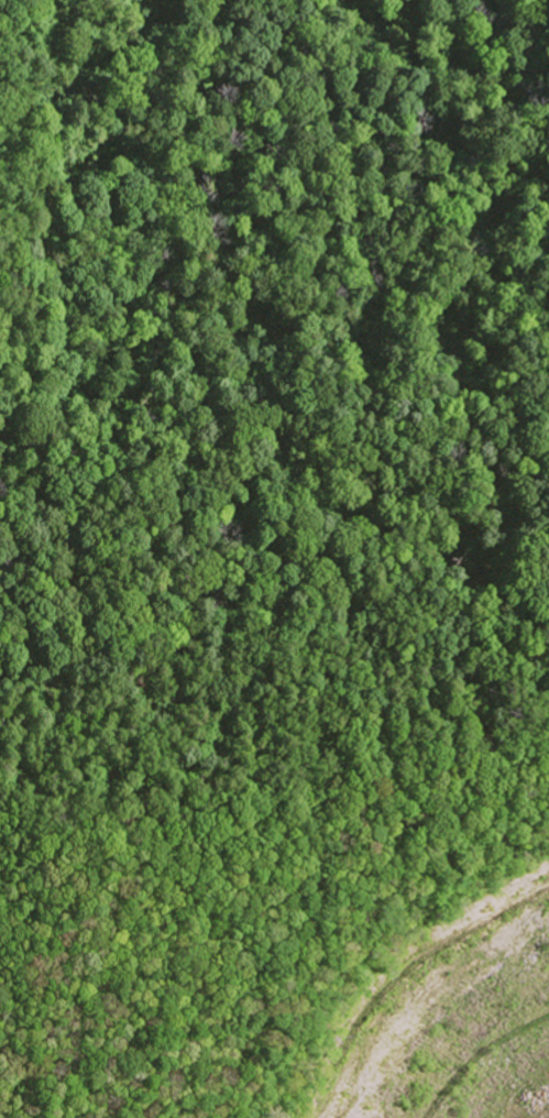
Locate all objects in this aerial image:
road: (260, 209)
road: (260, 507)

